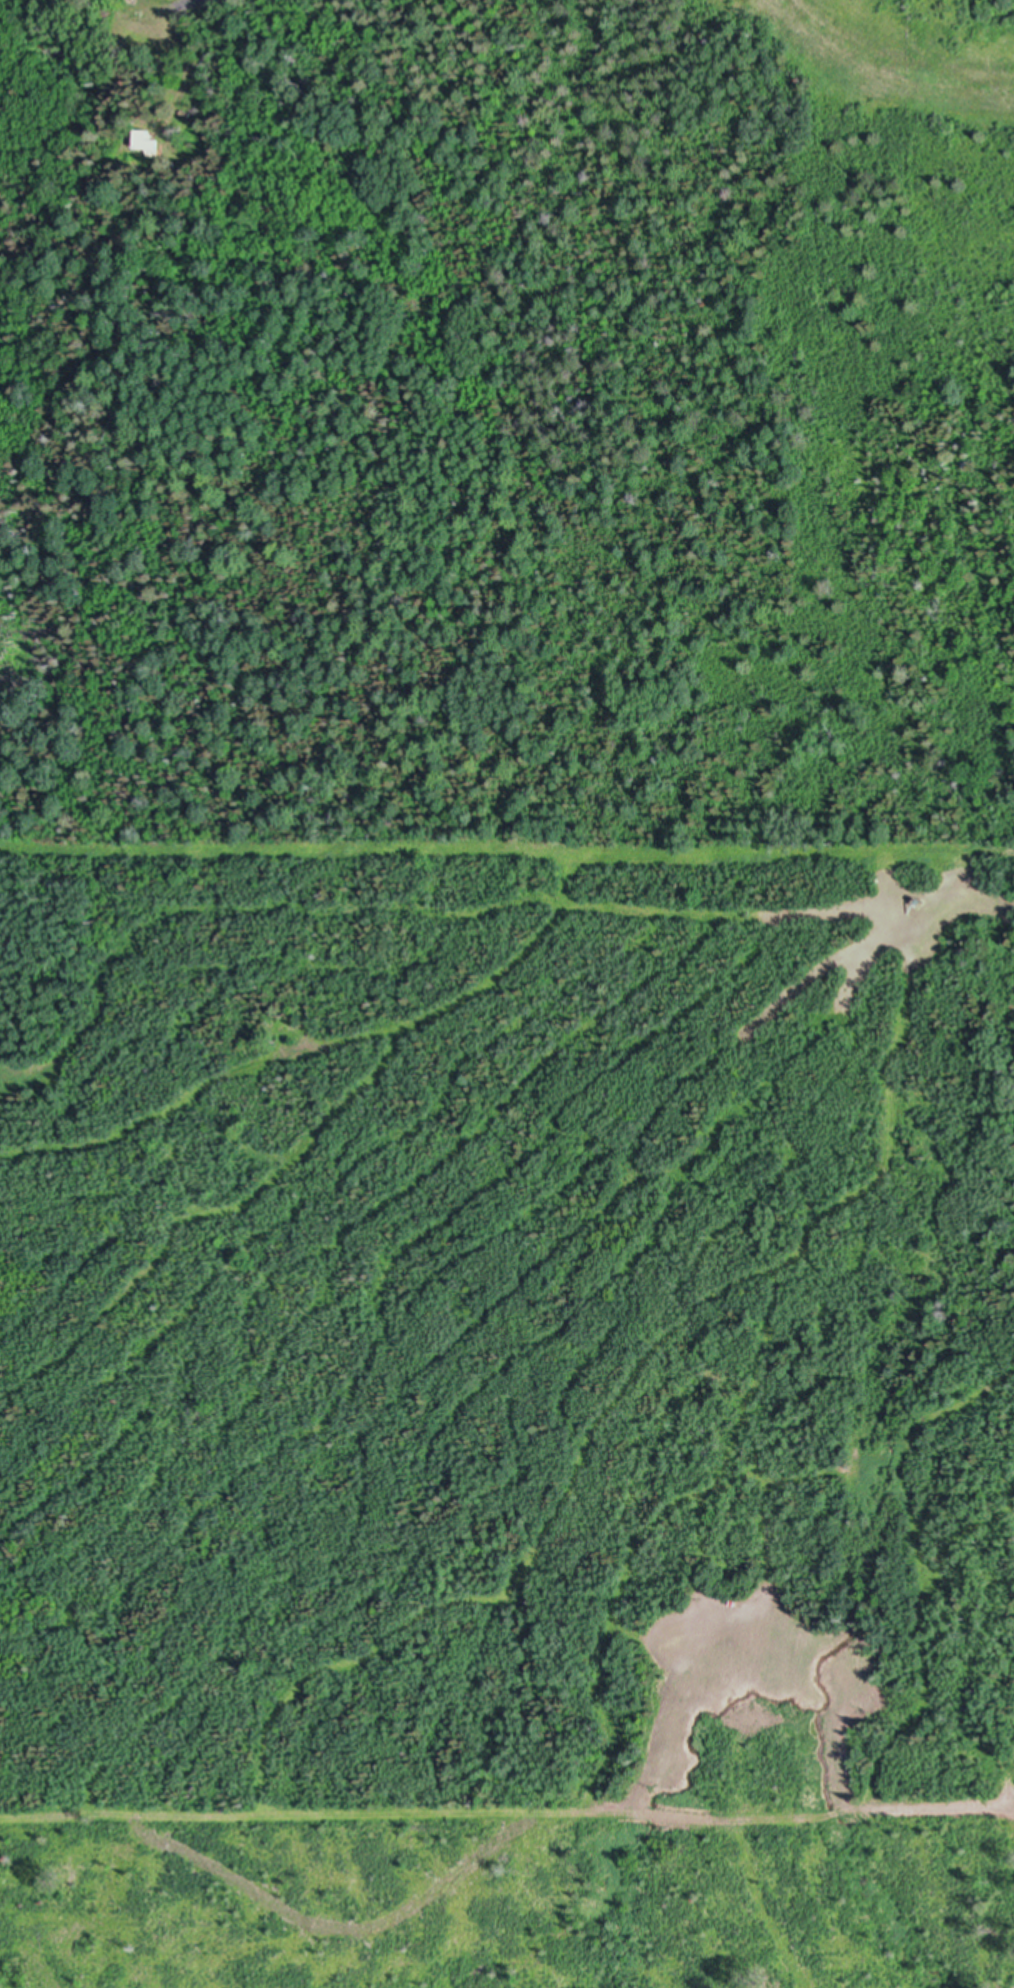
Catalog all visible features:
road: (183, 8)
river: (109, 114)
building: (149, 141)
river: (10, 321)

